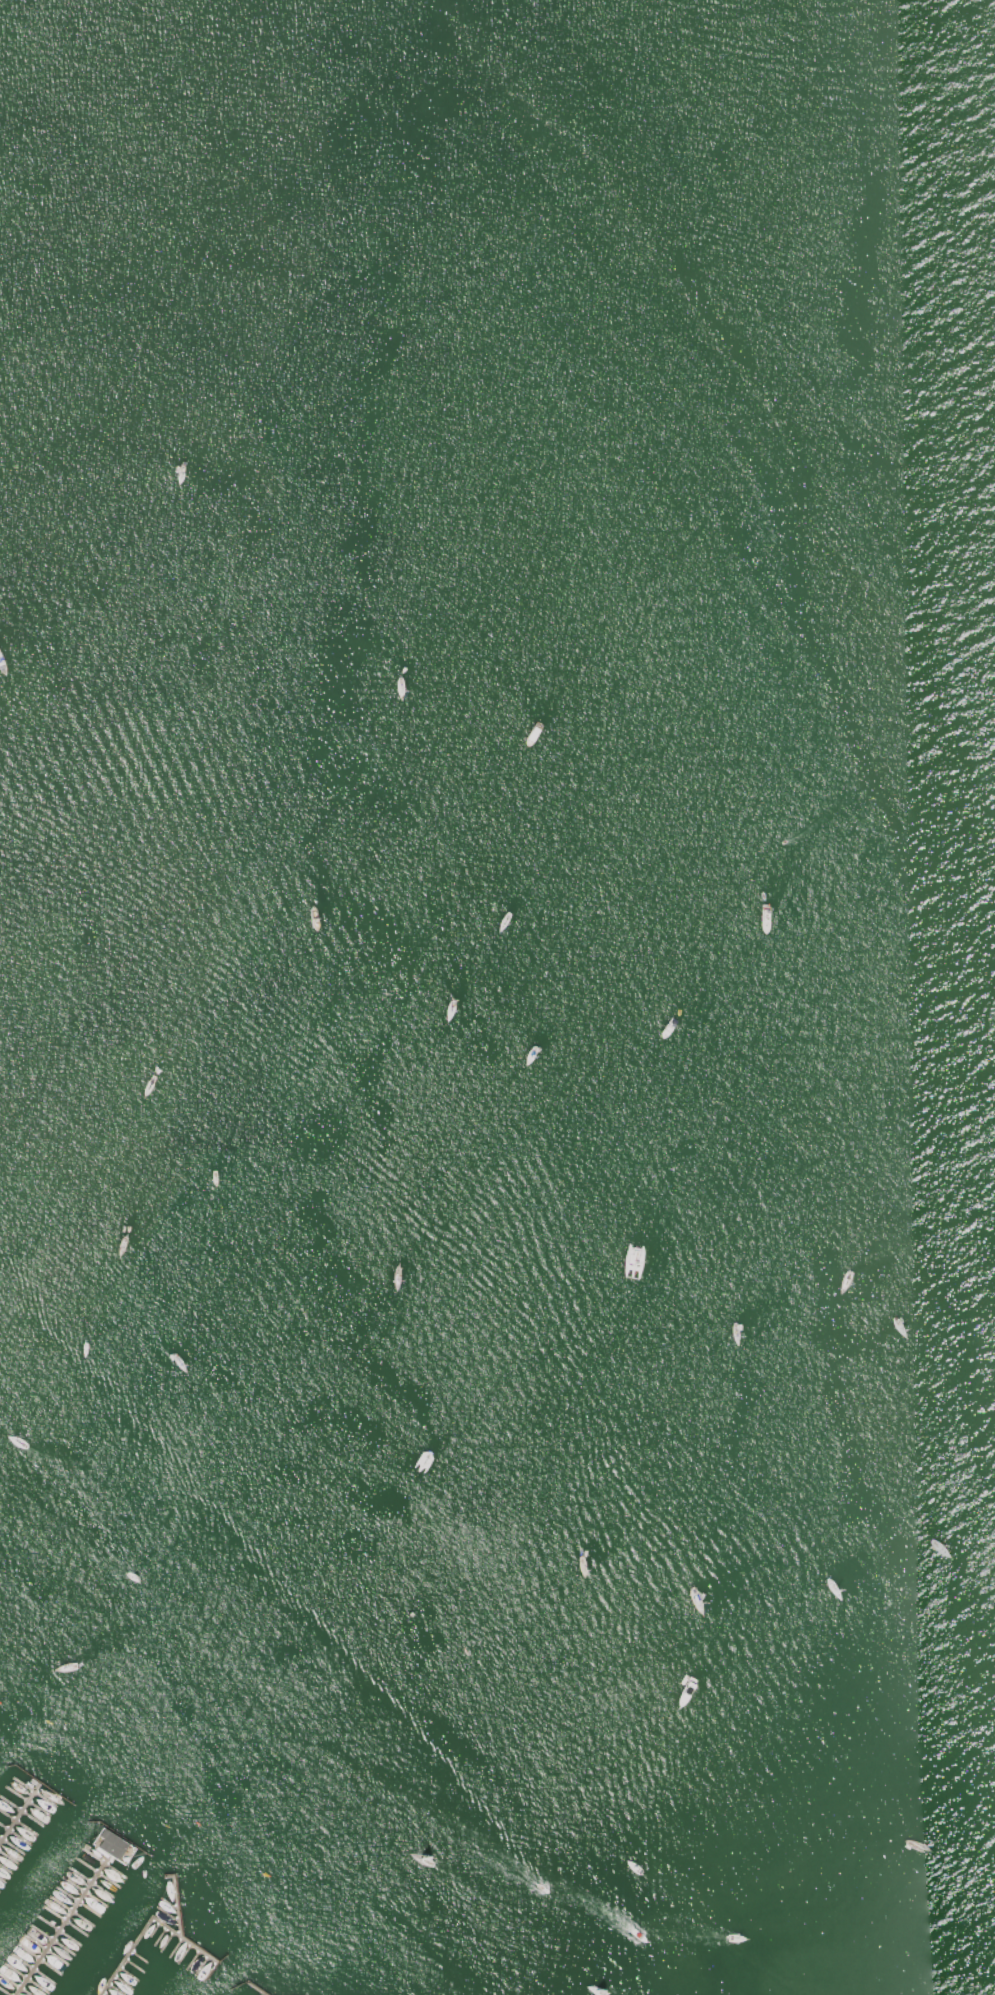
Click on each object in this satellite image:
pier: (17, 1818)
building: (109, 1843)
pier: (66, 1927)
pier: (149, 1929)

